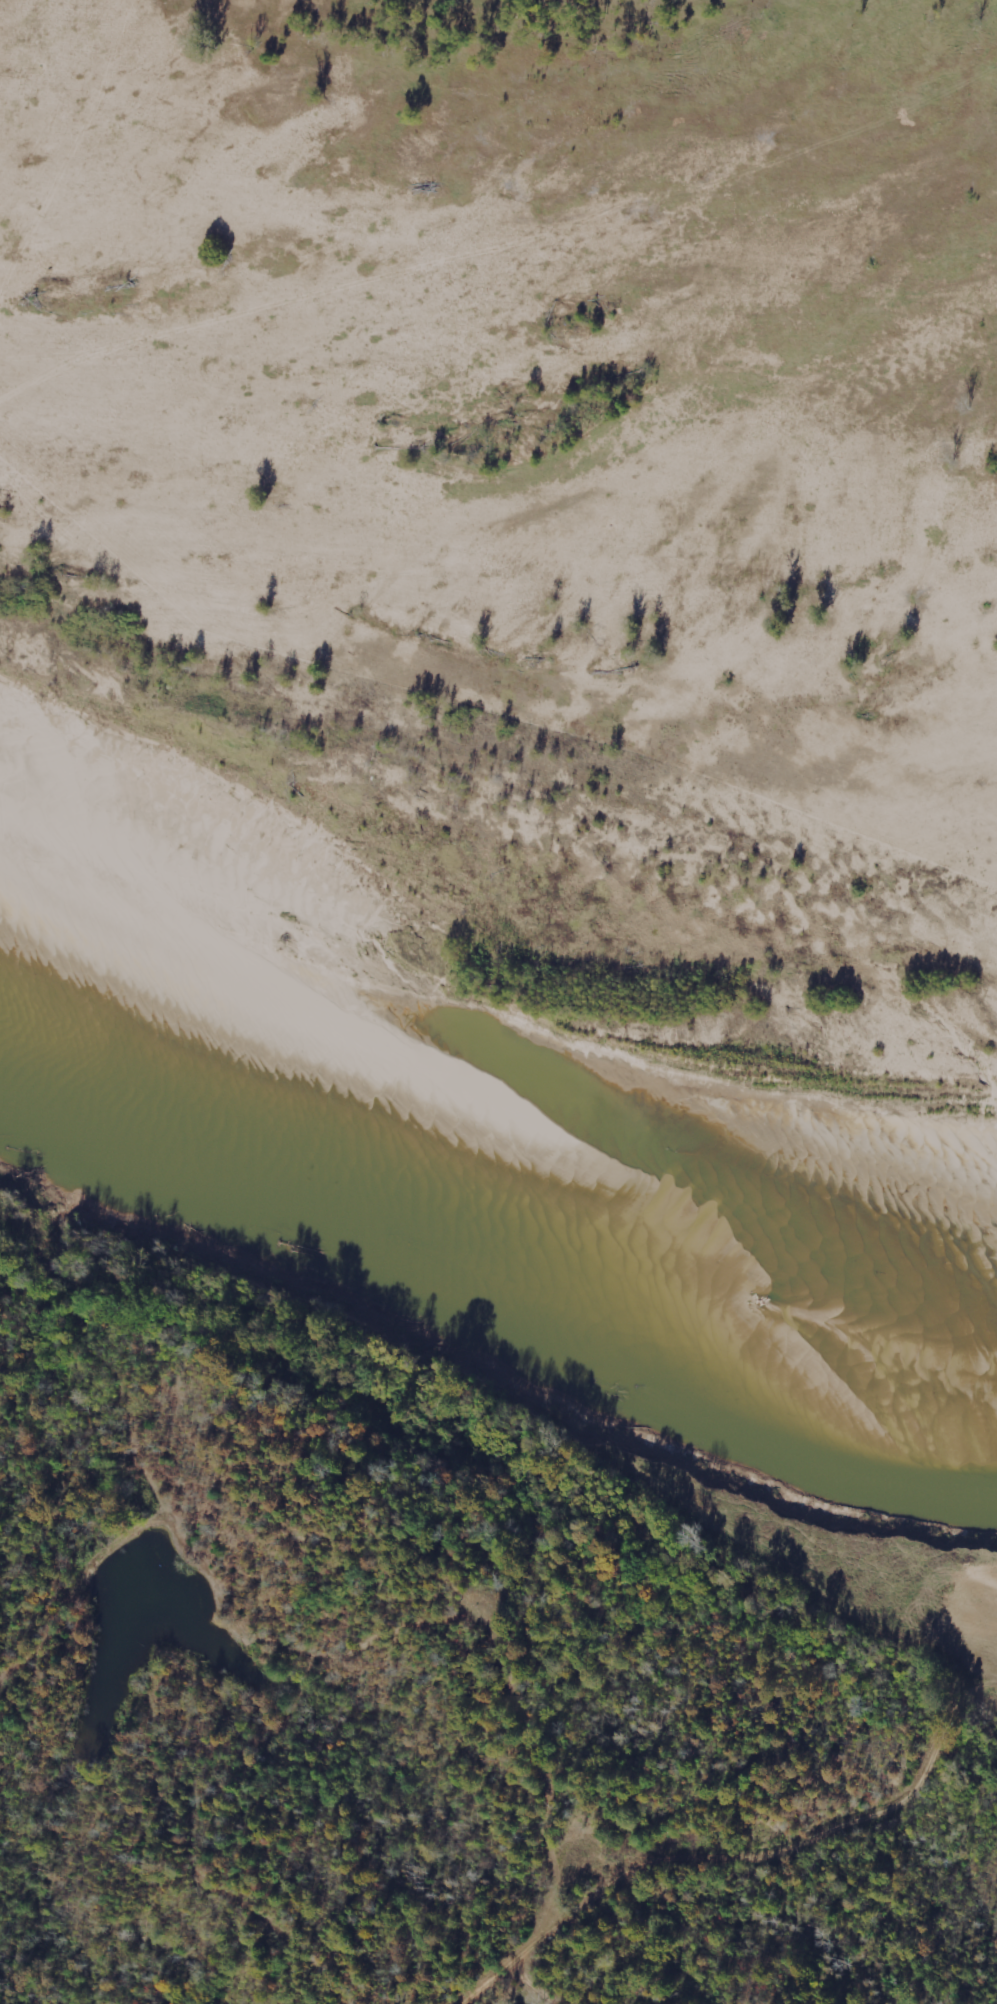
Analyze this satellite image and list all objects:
river: (487, 1147)

